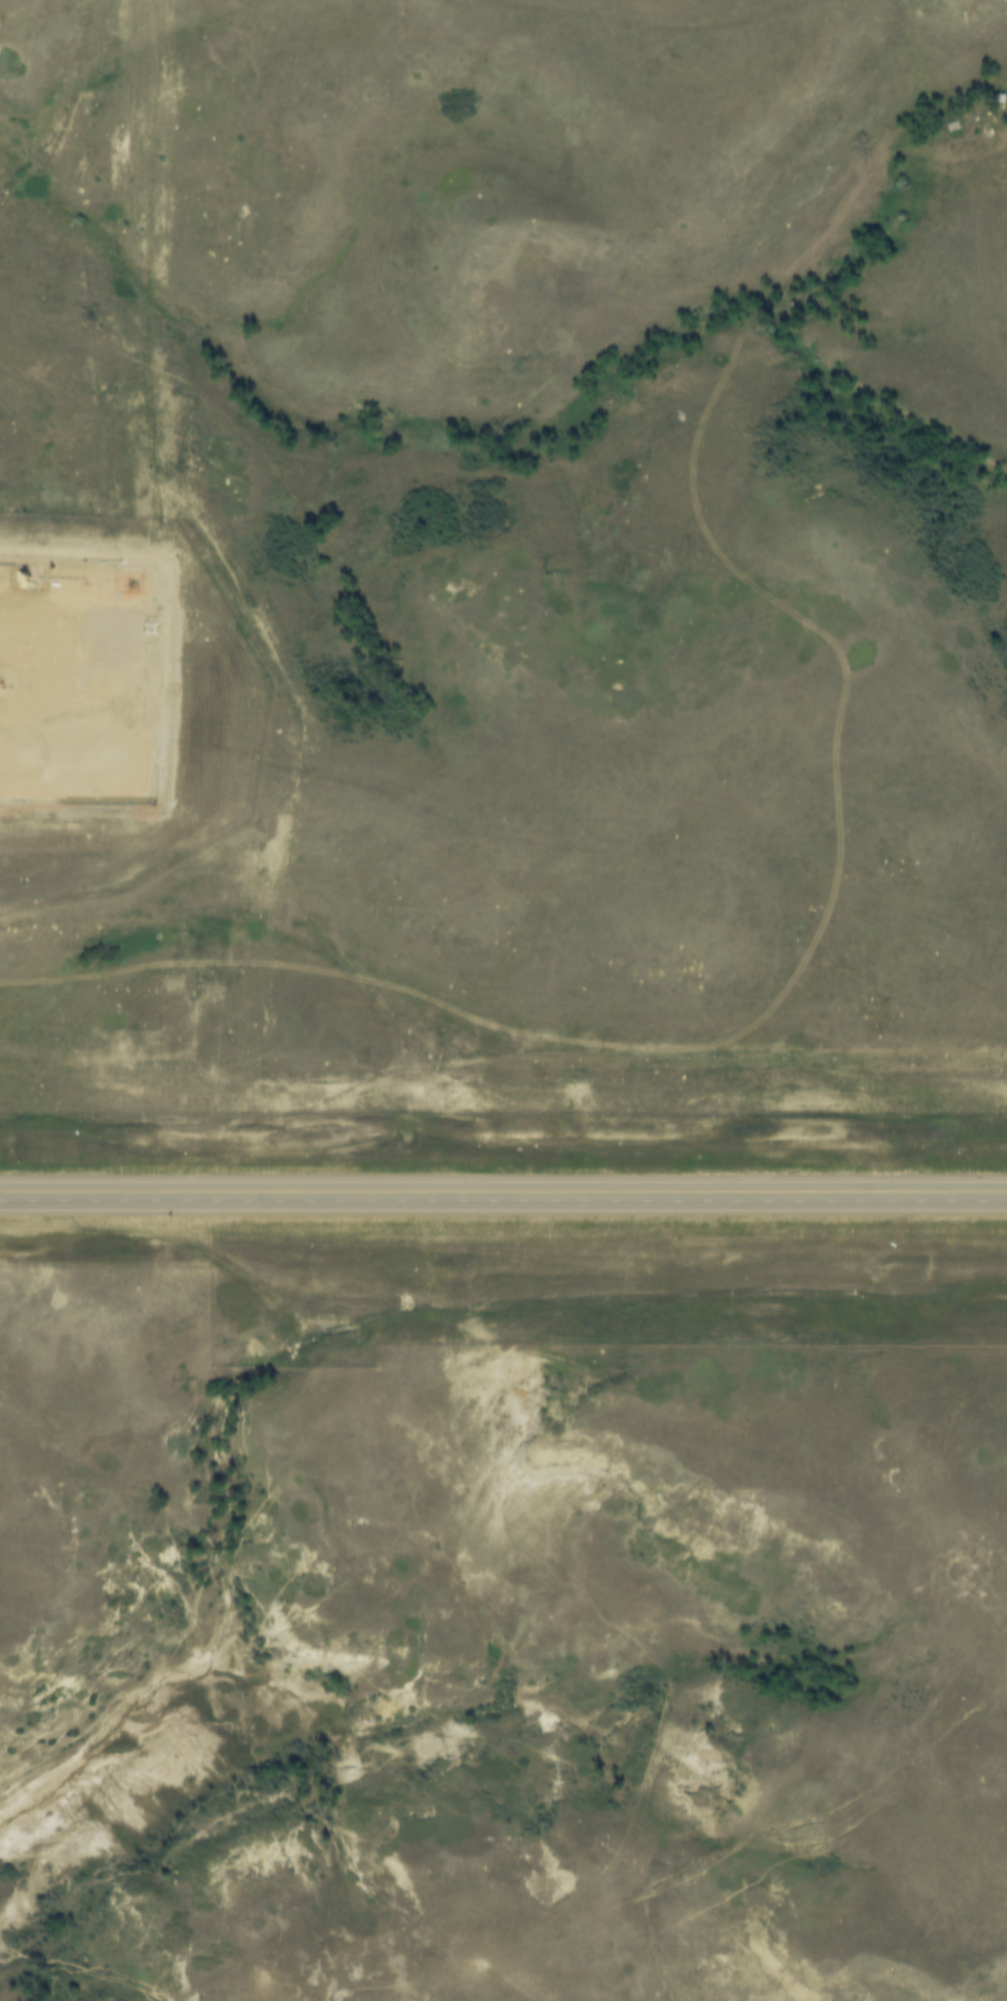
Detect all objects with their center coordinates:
building: (27, 578)
road: (503, 1196)

